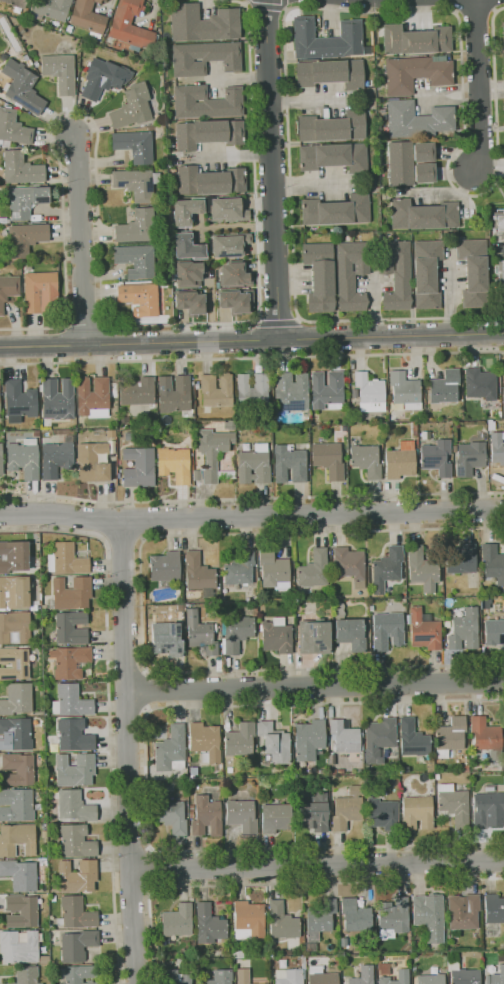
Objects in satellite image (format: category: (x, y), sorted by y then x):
road: (246, 2)
building: (16, 3)
road: (264, 5)
road: (282, 5)
road: (474, 8)
building: (50, 9)
road: (493, 9)
road: (455, 10)
building: (88, 17)
building: (203, 23)
building: (130, 26)
building: (69, 29)
building: (502, 34)
building: (325, 39)
building: (415, 39)
building: (205, 58)
building: (60, 72)
building: (329, 73)
building: (414, 73)
building: (104, 78)
building: (22, 87)
road: (482, 88)
building: (207, 102)
building: (132, 107)
building: (417, 119)
building: (13, 127)
building: (331, 127)
building: (209, 133)
road: (464, 134)
building: (135, 145)
building: (332, 156)
building: (410, 162)
building: (21, 168)
road: (274, 169)
building: (210, 181)
building: (137, 183)
building: (26, 201)
building: (226, 209)
building: (335, 210)
building: (184, 211)
building: (421, 215)
building: (3, 220)
building: (497, 220)
building: (137, 226)
building: (24, 238)
road: (82, 240)
building: (227, 245)
building: (186, 246)
building: (137, 260)
road: (292, 267)
building: (472, 270)
building: (425, 273)
building: (187, 274)
building: (233, 274)
building: (349, 274)
building: (395, 274)
building: (318, 276)
building: (500, 276)
building: (8, 289)
building: (40, 292)
building: (140, 299)
building: (235, 300)
road: (447, 300)
building: (189, 302)
road: (374, 308)
road: (101, 310)
road: (276, 319)
road: (85, 325)
road: (393, 337)
road: (141, 343)
road: (252, 356)
building: (480, 384)
building: (444, 387)
building: (216, 390)
building: (327, 390)
building: (405, 390)
building: (138, 391)
building: (292, 391)
building: (370, 392)
building: (503, 392)
building: (354, 393)
building: (174, 394)
building: (253, 394)
building: (93, 397)
building: (57, 399)
building: (19, 401)
building: (229, 424)
building: (100, 431)
building: (36, 433)
building: (159, 439)
building: (497, 449)
building: (213, 451)
building: (437, 457)
building: (57, 458)
building: (470, 458)
building: (1, 459)
building: (24, 459)
building: (329, 460)
building: (367, 460)
building: (401, 461)
building: (92, 462)
building: (175, 464)
building: (290, 464)
building: (254, 465)
building: (139, 468)
building: (197, 475)
road: (251, 499)
road: (251, 516)
road: (123, 540)
building: (13, 557)
building: (461, 559)
building: (66, 560)
building: (493, 563)
building: (350, 565)
building: (165, 567)
building: (273, 568)
building: (387, 568)
building: (240, 569)
building: (423, 569)
building: (314, 570)
building: (198, 575)
building: (14, 592)
building: (71, 593)
road: (141, 602)
building: (485, 603)
building: (339, 610)
building: (72, 627)
building: (15, 628)
building: (424, 630)
building: (465, 630)
building: (387, 631)
building: (494, 632)
building: (200, 633)
building: (237, 633)
building: (353, 633)
building: (277, 636)
building: (167, 637)
building: (314, 637)
building: (71, 662)
building: (14, 663)
road: (315, 685)
building: (45, 690)
building: (17, 699)
building: (71, 701)
road: (108, 709)
building: (17, 733)
building: (485, 734)
building: (74, 735)
building: (450, 736)
building: (346, 737)
building: (379, 738)
building: (413, 739)
building: (240, 740)
building: (309, 740)
building: (205, 742)
building: (275, 742)
building: (171, 750)
road: (128, 752)
building: (331, 759)
building: (466, 768)
building: (404, 769)
building: (18, 770)
building: (75, 770)
building: (394, 770)
building: (333, 771)
building: (340, 771)
building: (360, 772)
building: (437, 776)
road: (147, 778)
building: (327, 785)
building: (202, 790)
building: (43, 794)
building: (454, 804)
building: (16, 805)
building: (75, 806)
building: (487, 806)
building: (191, 808)
building: (347, 809)
building: (169, 810)
building: (313, 812)
building: (418, 812)
building: (382, 814)
building: (192, 815)
building: (242, 815)
building: (207, 816)
building: (276, 817)
building: (17, 840)
building: (77, 842)
road: (131, 849)
road: (317, 864)
road: (150, 868)
building: (20, 875)
building: (78, 876)
road: (279, 884)
road: (132, 888)
building: (54, 898)
building: (493, 908)
building: (21, 911)
building: (462, 913)
building: (76, 914)
building: (429, 915)
building: (356, 916)
building: (393, 918)
building: (320, 919)
building: (178, 920)
building: (249, 920)
building: (282, 921)
building: (209, 924)
building: (77, 945)
building: (19, 947)
building: (310, 947)
building: (239, 954)
building: (44, 959)
building: (381, 973)
building: (26, 974)
building: (462, 974)
building: (78, 975)
building: (291, 975)
building: (243, 976)
building: (321, 976)
building: (363, 976)
building: (498, 976)
building: (178, 977)
building: (220, 977)
building: (431, 979)
building: (261, 983)

